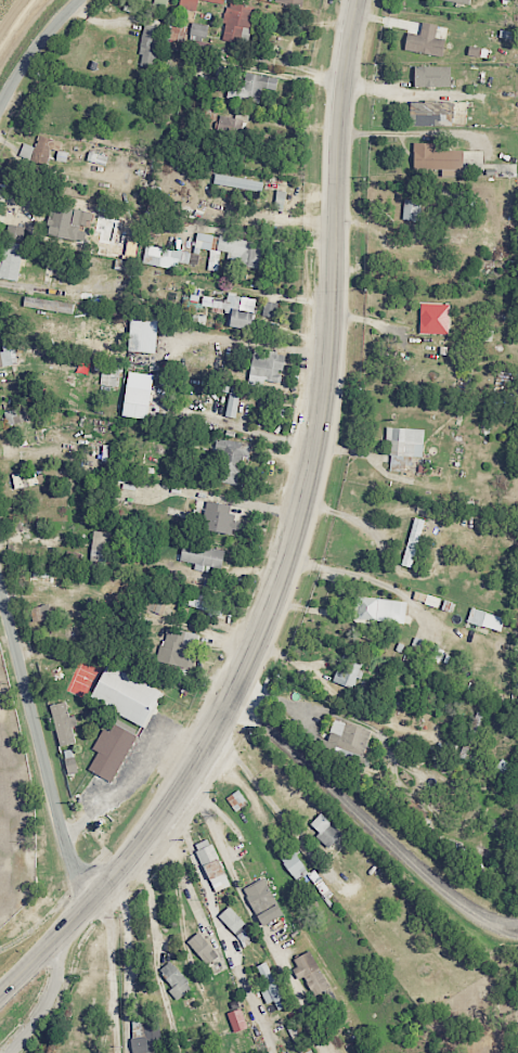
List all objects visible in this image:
building: (219, 0)
building: (463, 0)
building: (295, 1)
building: (191, 4)
building: (238, 20)
crop: (17, 25)
building: (179, 31)
building: (199, 31)
building: (509, 34)
building: (428, 40)
building: (152, 44)
road: (34, 49)
building: (480, 51)
building: (436, 75)
building: (237, 84)
building: (436, 111)
building: (230, 125)
building: (44, 145)
building: (99, 157)
building: (239, 182)
building: (282, 200)
building: (414, 208)
building: (66, 221)
building: (233, 247)
building: (171, 255)
building: (14, 260)
road: (42, 288)
building: (49, 304)
building: (237, 308)
building: (437, 318)
building: (147, 333)
building: (10, 356)
building: (269, 365)
building: (141, 395)
building: (234, 401)
building: (17, 415)
building: (406, 445)
building: (233, 459)
building: (28, 477)
building: (223, 517)
building: (103, 540)
building: (415, 541)
road: (297, 542)
building: (205, 555)
road: (366, 578)
building: (203, 602)
building: (156, 605)
building: (384, 609)
building: (43, 612)
building: (489, 619)
building: (179, 646)
building: (351, 671)
building: (129, 694)
building: (65, 722)
building: (474, 735)
building: (351, 737)
building: (114, 750)
building: (73, 760)
road: (44, 767)
road: (140, 776)
building: (238, 799)
road: (368, 820)
building: (327, 830)
building: (216, 864)
building: (302, 868)
road: (199, 873)
building: (267, 901)
building: (234, 919)
building: (206, 948)
road: (155, 949)
road: (127, 963)
building: (313, 973)
building: (178, 979)
building: (272, 985)
road: (115, 991)
road: (50, 1002)
building: (239, 1020)
road: (107, 1022)
building: (150, 1039)

